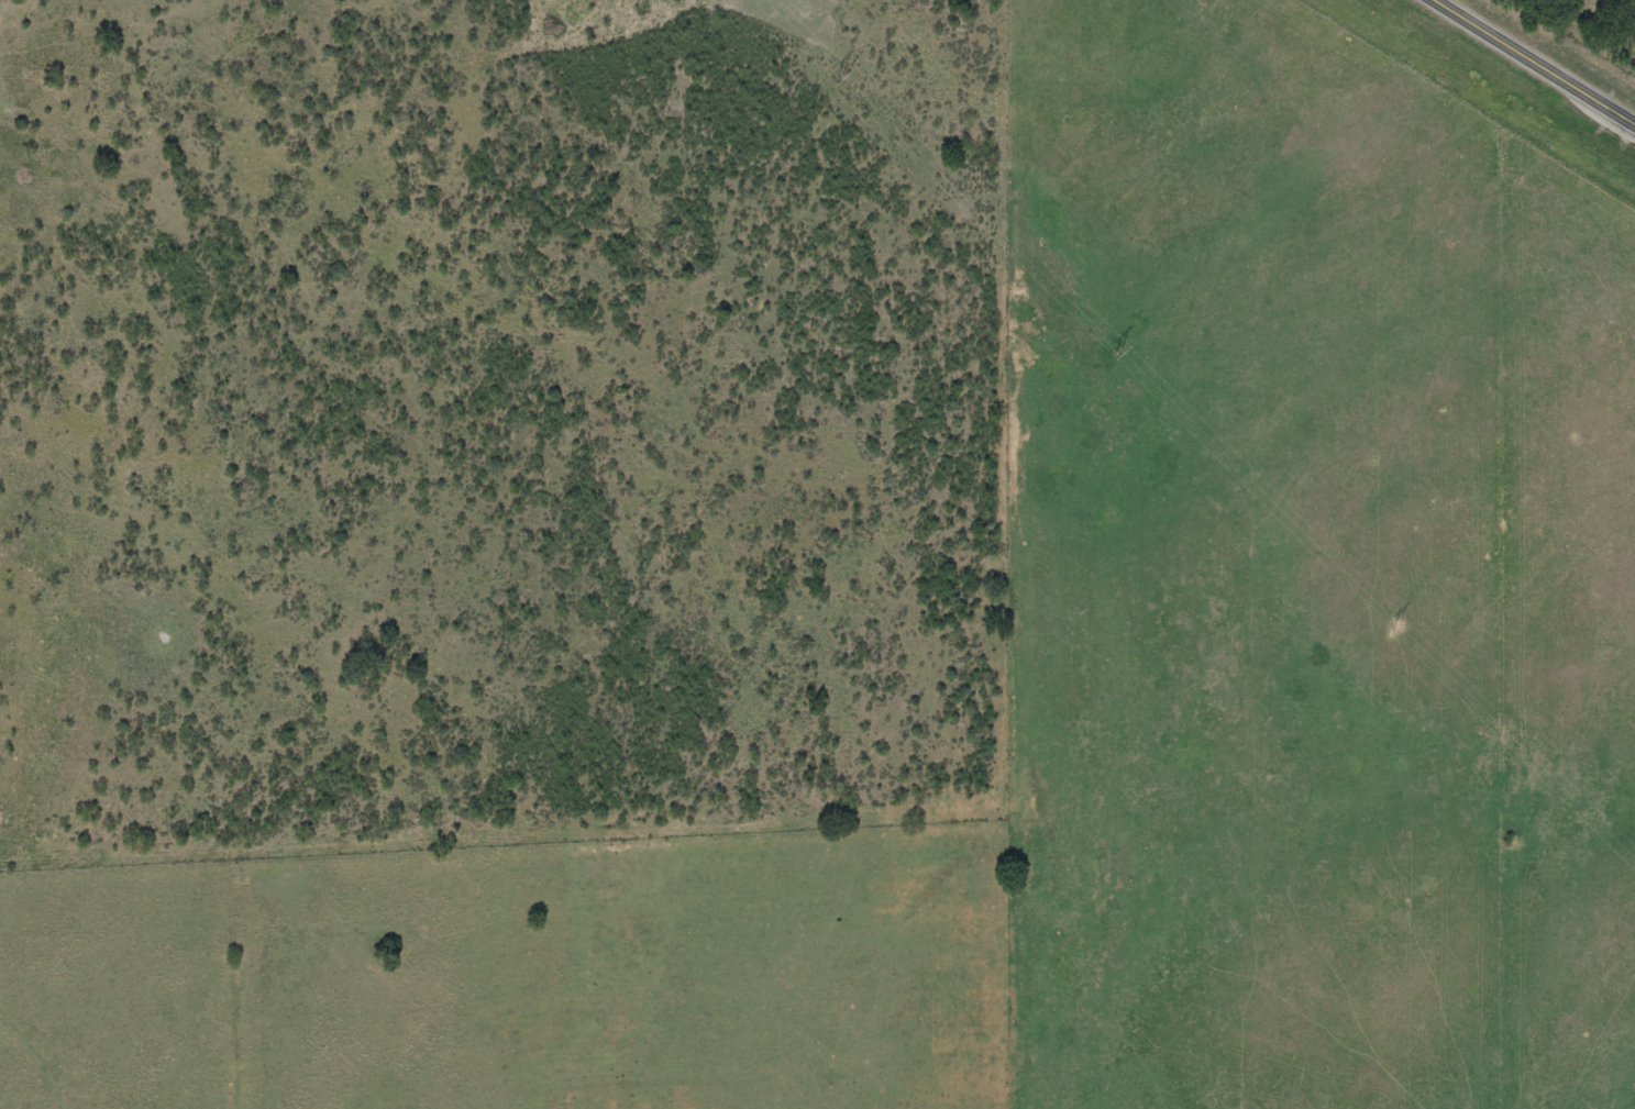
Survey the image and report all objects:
road: (1433, 0)
road: (1533, 62)
power tower: (849, 82)
power tower: (1135, 355)
power tower: (1418, 636)

